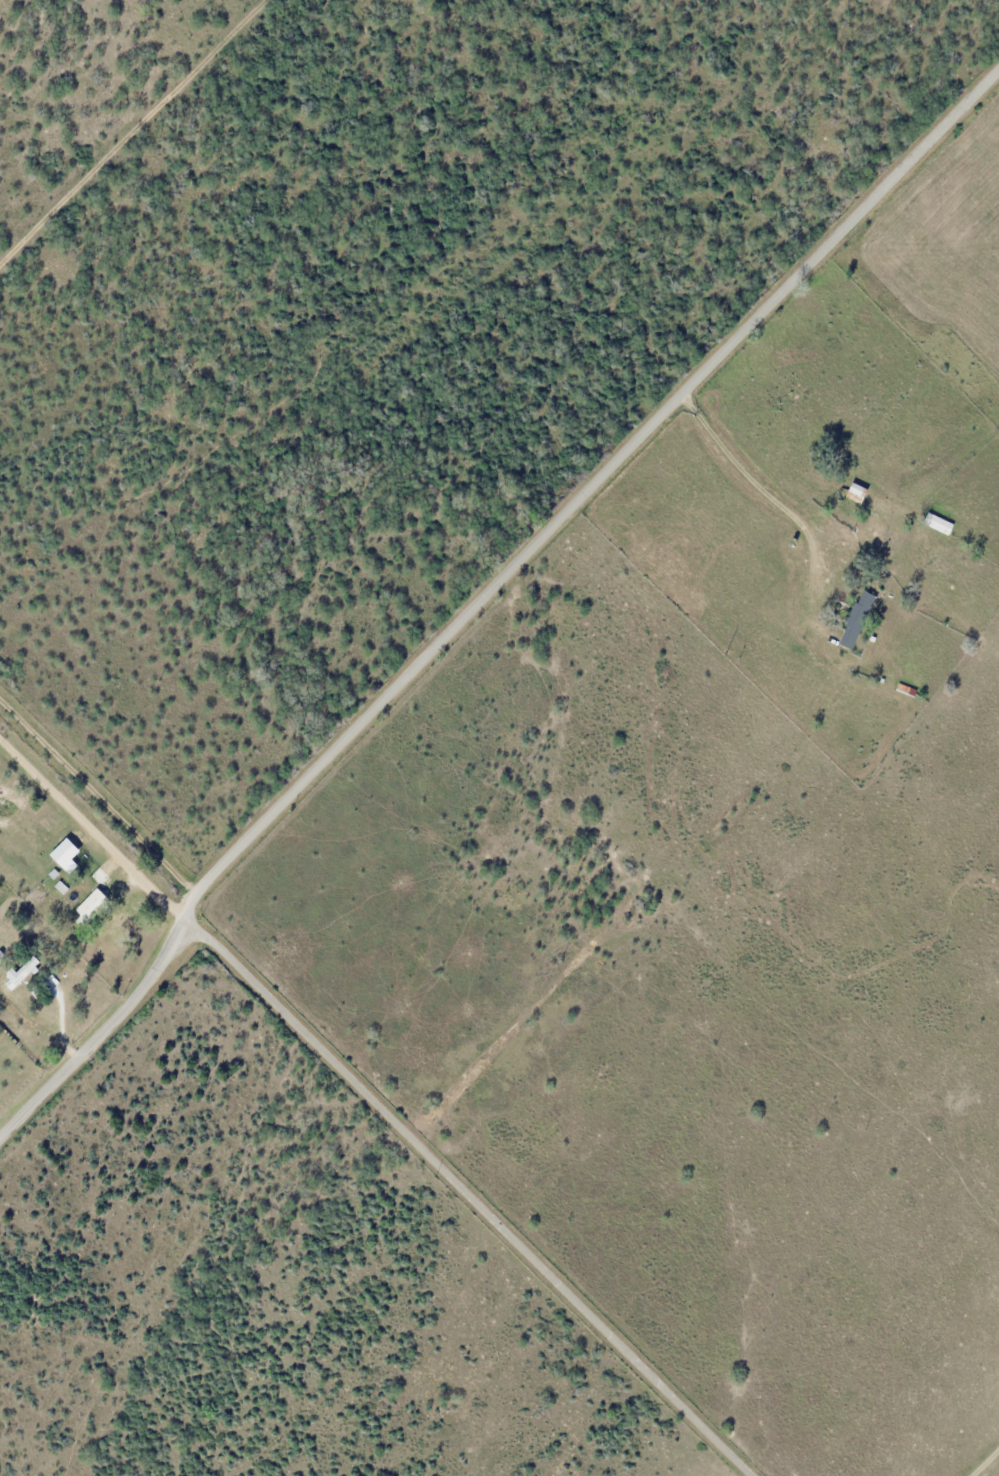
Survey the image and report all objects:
road: (759, 480)
building: (859, 493)
building: (937, 523)
road: (487, 593)
building: (855, 620)
road: (91, 822)
building: (67, 843)
building: (53, 874)
building: (99, 876)
building: (60, 887)
building: (89, 903)
building: (22, 970)
road: (466, 1195)

